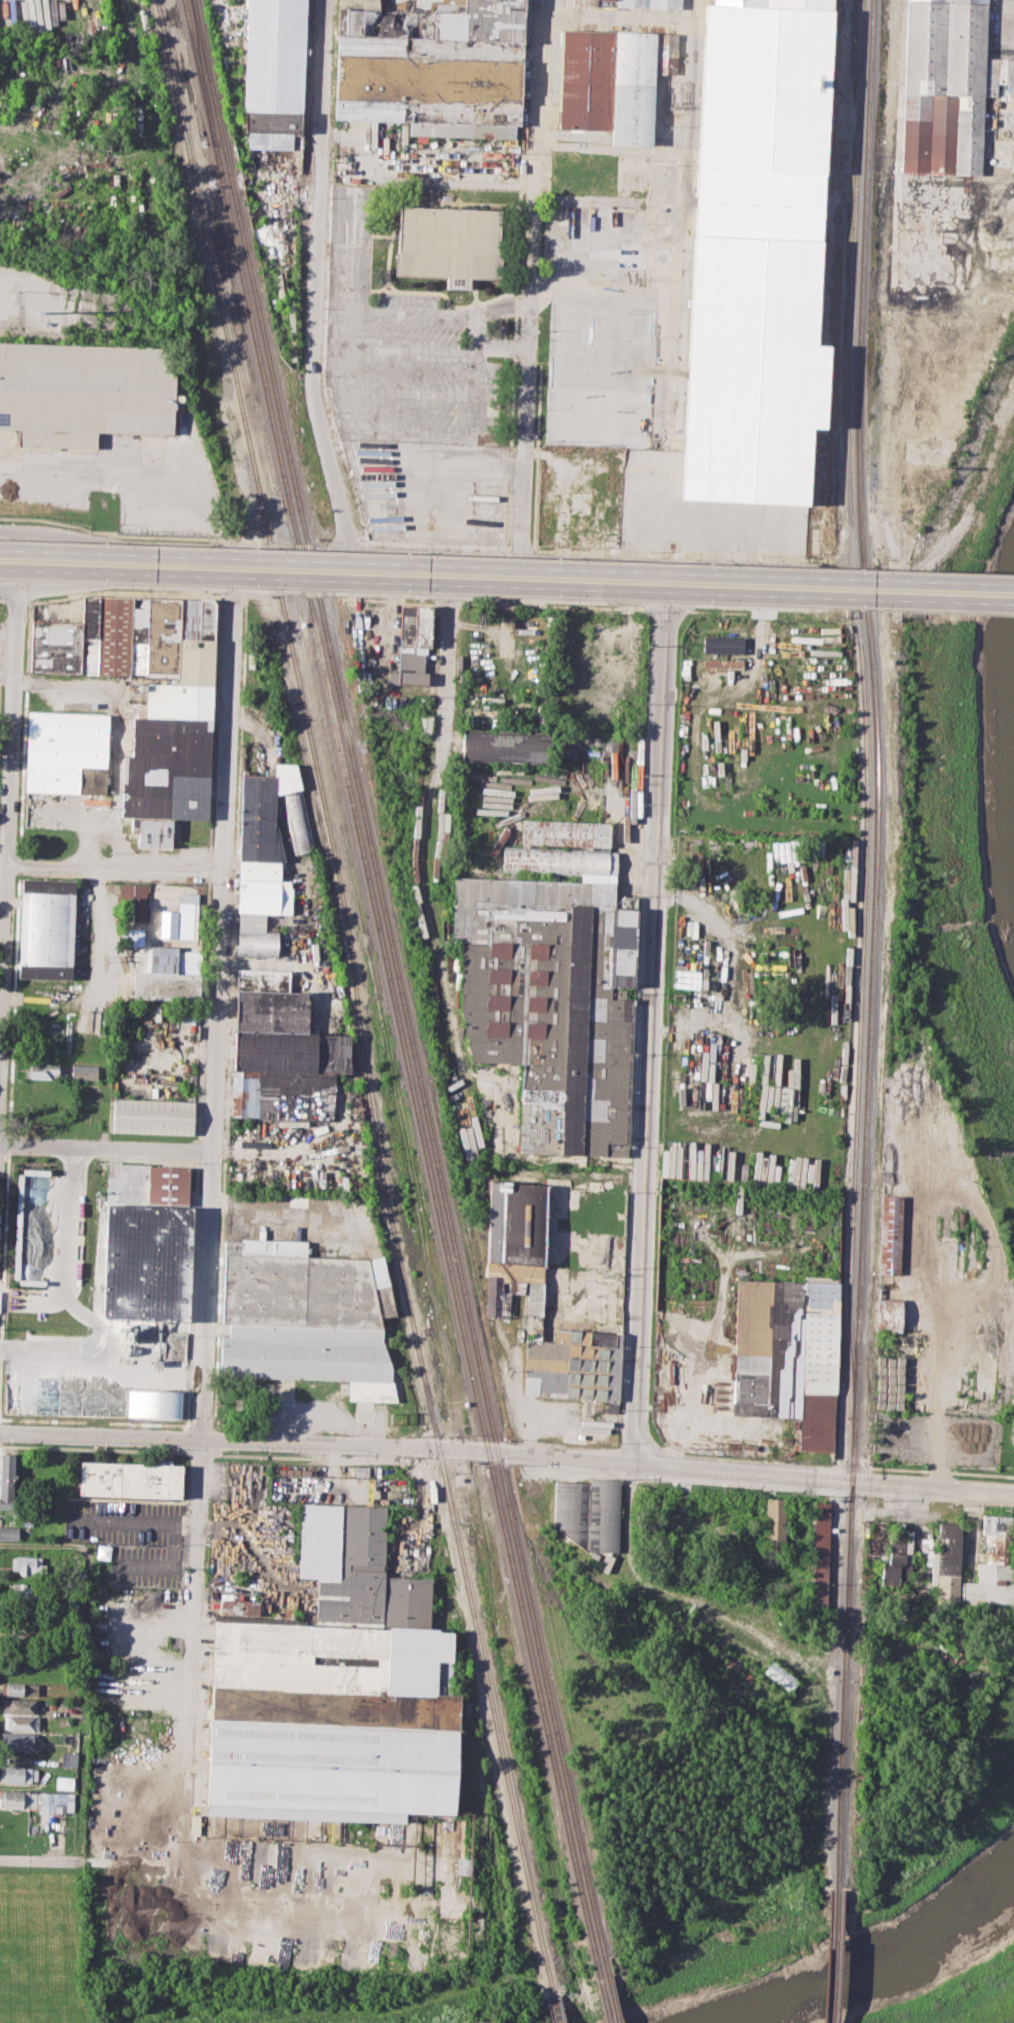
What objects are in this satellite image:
building: (629, 3)
road: (1002, 9)
building: (435, 67)
railway: (203, 72)
building: (614, 79)
building: (946, 85)
building: (273, 91)
building: (584, 172)
building: (450, 244)
building: (756, 254)
road: (532, 288)
building: (84, 391)
road: (324, 439)
road: (111, 476)
parking lot: (124, 480)
road: (113, 533)
road: (118, 553)
road: (507, 560)
road: (221, 566)
road: (238, 569)
road: (126, 578)
road: (507, 581)
road: (8, 590)
road: (123, 591)
road: (236, 591)
road: (2, 599)
road: (16, 600)
building: (724, 643)
building: (411, 647)
parking lot: (2, 650)
building: (723, 667)
road: (448, 670)
road: (7, 675)
railway: (864, 688)
building: (148, 698)
road: (12, 727)
road: (230, 736)
building: (506, 747)
building: (67, 751)
parking lot: (69, 812)
building: (569, 833)
building: (267, 855)
building: (565, 862)
road: (115, 868)
building: (133, 901)
building: (189, 915)
building: (47, 928)
road: (4, 944)
railway: (874, 945)
building: (169, 976)
railway: (399, 978)
railway: (390, 979)
railway: (355, 997)
building: (552, 1003)
road: (217, 1013)
building: (187, 1015)
building: (283, 1050)
building: (45, 1069)
building: (85, 1070)
building: (44, 1088)
building: (153, 1116)
road: (106, 1149)
road: (642, 1167)
building: (36, 1224)
building: (890, 1234)
building: (147, 1242)
building: (516, 1247)
building: (33, 1254)
building: (32, 1273)
road: (99, 1284)
building: (32, 1291)
road: (206, 1296)
building: (889, 1314)
building: (306, 1316)
building: (788, 1354)
building: (574, 1365)
road: (100, 1370)
building: (155, 1404)
building: (1012, 1432)
road: (507, 1453)
building: (129, 1479)
building: (7, 1480)
building: (590, 1513)
building: (6, 1514)
road: (139, 1518)
building: (775, 1526)
building: (9, 1533)
parking lot: (134, 1541)
building: (821, 1557)
building: (898, 1557)
building: (947, 1558)
building: (29, 1564)
building: (994, 1564)
building: (27, 1591)
building: (238, 1606)
building: (76, 1614)
building: (29, 1623)
road: (195, 1645)
road: (86, 1659)
building: (735, 1662)
building: (748, 1675)
building: (781, 1675)
building: (19, 1688)
building: (335, 1691)
building: (18, 1705)
building: (21, 1722)
building: (19, 1741)
building: (69, 1757)
building: (17, 1774)
building: (64, 1782)
building: (17, 1799)
building: (55, 1803)
road: (222, 1853)
road: (335, 1858)
road: (39, 1859)
railway: (834, 1957)
river: (888, 1967)
park: (174, 1976)
railway: (610, 1990)
railway: (601, 1991)
railway: (554, 2009)

